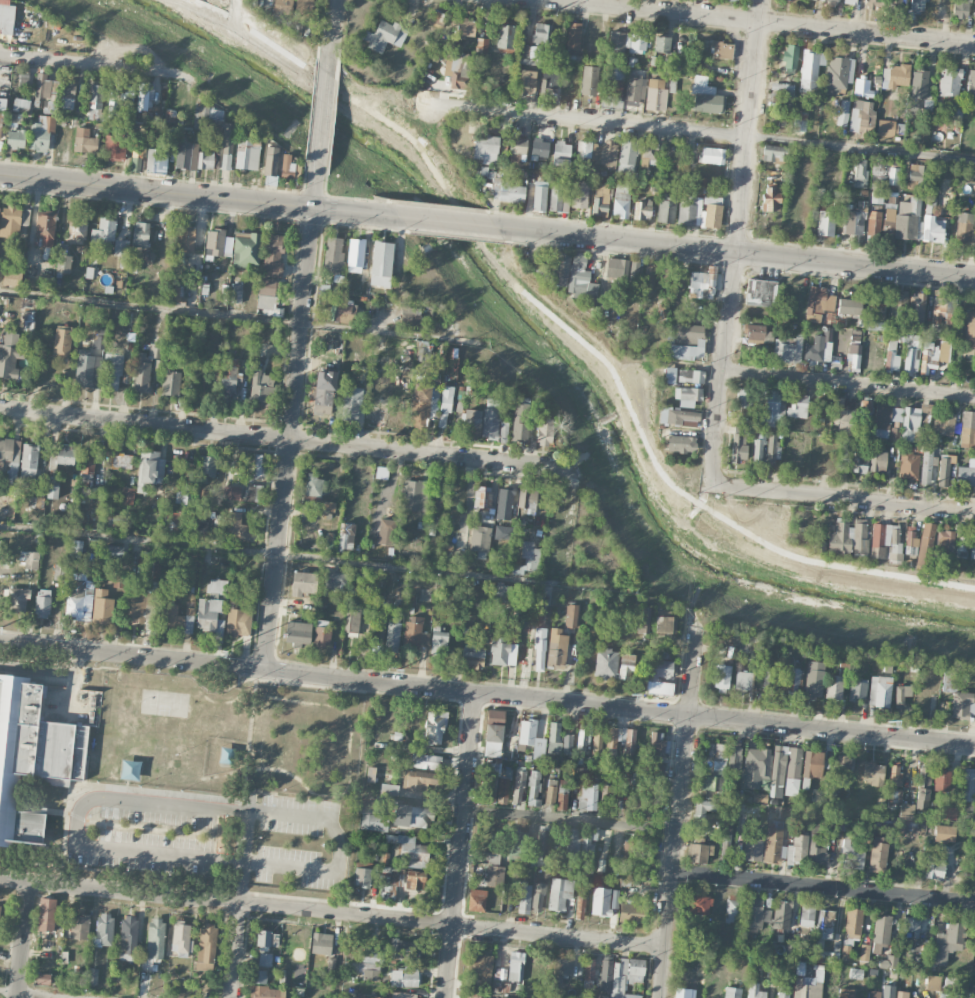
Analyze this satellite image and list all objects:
building: (732, 0)
building: (818, 0)
building: (851, 1)
building: (874, 3)
building: (895, 6)
building: (282, 7)
building: (917, 7)
building: (960, 8)
building: (303, 9)
building: (974, 10)
building: (6, 16)
building: (436, 18)
road: (763, 24)
building: (466, 27)
road: (332, 28)
building: (541, 33)
building: (385, 35)
building: (504, 36)
building: (573, 36)
building: (616, 42)
building: (637, 42)
building: (482, 45)
building: (661, 50)
building: (721, 50)
building: (436, 54)
building: (790, 58)
road: (79, 62)
building: (455, 69)
building: (810, 69)
building: (549, 72)
building: (837, 73)
building: (897, 75)
building: (23, 80)
building: (589, 80)
building: (614, 81)
building: (949, 81)
building: (526, 82)
building: (971, 83)
building: (919, 84)
building: (45, 86)
building: (861, 86)
building: (549, 87)
building: (634, 91)
building: (656, 94)
building: (68, 95)
building: (126, 96)
building: (142, 96)
building: (706, 97)
building: (787, 97)
building: (21, 103)
building: (924, 103)
building: (3, 104)
building: (100, 104)
building: (954, 110)
road: (323, 113)
building: (843, 113)
building: (170, 115)
building: (208, 118)
building: (862, 119)
building: (799, 121)
building: (0, 122)
building: (886, 128)
building: (41, 133)
road: (699, 133)
building: (15, 139)
building: (84, 141)
building: (227, 146)
building: (518, 146)
building: (540, 147)
building: (114, 149)
building: (485, 149)
building: (585, 149)
building: (247, 153)
building: (775, 153)
building: (606, 154)
building: (561, 155)
building: (648, 155)
building: (712, 155)
building: (137, 156)
building: (627, 156)
building: (193, 157)
building: (156, 160)
building: (271, 160)
building: (289, 168)
building: (860, 174)
building: (917, 174)
building: (893, 176)
building: (507, 191)
building: (579, 194)
road: (192, 195)
building: (540, 196)
building: (947, 196)
building: (558, 198)
building: (601, 199)
building: (621, 199)
building: (771, 199)
building: (666, 207)
building: (642, 210)
building: (699, 212)
building: (907, 219)
building: (11, 220)
road: (440, 221)
building: (853, 222)
building: (826, 223)
building: (874, 223)
building: (932, 223)
building: (888, 224)
building: (77, 226)
building: (964, 227)
building: (44, 230)
building: (140, 234)
building: (103, 235)
building: (185, 239)
building: (215, 242)
road: (736, 242)
building: (121, 246)
building: (246, 248)
road: (735, 254)
building: (273, 255)
building: (334, 255)
building: (355, 255)
building: (146, 256)
building: (124, 261)
building: (63, 263)
building: (381, 264)
building: (560, 269)
building: (620, 273)
building: (578, 274)
building: (666, 276)
building: (647, 281)
building: (702, 284)
building: (591, 288)
building: (324, 289)
building: (177, 292)
building: (337, 292)
building: (761, 292)
building: (236, 293)
building: (268, 297)
building: (899, 301)
building: (818, 303)
building: (848, 306)
building: (876, 306)
building: (344, 309)
building: (915, 309)
building: (661, 310)
building: (943, 310)
road: (240, 316)
building: (410, 316)
building: (28, 321)
building: (970, 329)
road: (568, 332)
building: (685, 332)
building: (757, 333)
building: (61, 341)
building: (820, 346)
building: (783, 349)
building: (686, 350)
building: (420, 354)
building: (853, 355)
building: (934, 355)
building: (10, 356)
building: (891, 356)
building: (911, 360)
building: (144, 366)
building: (87, 370)
building: (111, 371)
building: (683, 375)
building: (229, 376)
building: (170, 381)
road: (849, 384)
building: (261, 387)
building: (323, 391)
building: (688, 396)
building: (742, 397)
building: (424, 403)
building: (351, 404)
building: (445, 406)
building: (798, 406)
building: (821, 407)
building: (771, 408)
building: (678, 417)
building: (491, 418)
building: (885, 419)
road: (292, 420)
building: (914, 420)
building: (472, 423)
building: (520, 423)
building: (943, 424)
building: (967, 429)
building: (503, 431)
building: (544, 431)
building: (894, 431)
road: (287, 435)
building: (680, 443)
building: (849, 444)
building: (739, 446)
building: (771, 447)
building: (757, 451)
building: (62, 454)
building: (878, 459)
building: (120, 460)
building: (29, 461)
building: (857, 462)
building: (927, 465)
building: (207, 466)
building: (259, 466)
building: (909, 466)
building: (87, 468)
building: (944, 469)
building: (150, 470)
building: (966, 474)
building: (313, 485)
building: (438, 489)
building: (52, 491)
building: (230, 492)
building: (253, 492)
building: (414, 495)
building: (127, 496)
building: (183, 497)
building: (483, 497)
building: (526, 497)
road: (843, 498)
building: (434, 501)
building: (504, 504)
building: (112, 520)
building: (177, 524)
building: (239, 526)
building: (199, 530)
building: (386, 531)
building: (502, 532)
building: (346, 537)
building: (847, 538)
building: (879, 539)
building: (329, 541)
building: (480, 541)
building: (910, 541)
building: (944, 541)
building: (925, 543)
building: (894, 545)
building: (820, 546)
building: (962, 546)
building: (972, 546)
building: (111, 550)
building: (530, 555)
road: (323, 558)
building: (29, 559)
building: (59, 571)
building: (151, 576)
building: (333, 580)
building: (118, 583)
building: (303, 583)
building: (216, 587)
building: (502, 593)
building: (402, 597)
building: (75, 598)
building: (16, 600)
building: (43, 603)
building: (135, 606)
building: (102, 607)
building: (515, 610)
building: (571, 615)
building: (210, 616)
building: (177, 617)
building: (352, 620)
building: (644, 621)
building: (239, 622)
building: (663, 623)
building: (415, 632)
building: (539, 632)
building: (297, 633)
building: (379, 633)
building: (321, 636)
building: (392, 636)
building: (439, 642)
building: (556, 648)
building: (502, 652)
power tower: (223, 653)
building: (472, 659)
building: (606, 663)
building: (626, 666)
power tower: (397, 671)
building: (722, 676)
building: (768, 676)
building: (659, 677)
building: (790, 678)
building: (814, 678)
building: (743, 680)
building: (834, 687)
building: (857, 690)
building: (880, 691)
road: (487, 692)
building: (903, 695)
power tower: (647, 697)
building: (958, 697)
building: (495, 715)
power tower: (888, 723)
building: (435, 727)
building: (554, 737)
building: (531, 738)
building: (493, 740)
building: (581, 740)
building: (613, 740)
building: (597, 741)
building: (656, 742)
building: (567, 744)
building: (628, 748)
building: (31, 754)
building: (734, 756)
building: (720, 757)
building: (425, 761)
building: (812, 764)
building: (778, 765)
building: (841, 765)
building: (755, 767)
building: (793, 767)
building: (655, 768)
building: (873, 773)
building: (895, 774)
building: (420, 780)
building: (942, 780)
building: (490, 781)
building: (710, 783)
building: (519, 784)
building: (638, 784)
building: (968, 785)
building: (503, 786)
building: (922, 787)
building: (389, 788)
building: (534, 788)
building: (550, 791)
building: (562, 794)
building: (710, 795)
building: (588, 796)
building: (607, 798)
building: (644, 806)
building: (704, 807)
building: (907, 810)
road: (677, 812)
building: (945, 812)
building: (412, 816)
road: (570, 820)
building: (374, 822)
building: (892, 827)
building: (945, 833)
parking lot: (212, 836)
building: (541, 842)
building: (517, 843)
building: (572, 843)
road: (461, 844)
building: (588, 844)
building: (648, 845)
road: (247, 846)
building: (783, 846)
building: (725, 848)
building: (752, 849)
building: (817, 850)
building: (413, 851)
building: (629, 852)
building: (699, 852)
building: (853, 854)
building: (877, 854)
road: (175, 856)
building: (934, 867)
building: (494, 870)
road: (15, 877)
building: (362, 877)
building: (414, 879)
building: (387, 883)
road: (823, 886)
road: (136, 890)
building: (559, 893)
building: (524, 898)
building: (537, 898)
building: (476, 900)
building: (580, 900)
building: (600, 901)
building: (698, 904)
road: (295, 906)
building: (1, 909)
building: (732, 909)
building: (46, 914)
building: (630, 914)
building: (755, 914)
building: (782, 914)
road: (400, 917)
building: (808, 917)
building: (854, 922)
building: (825, 924)
building: (79, 926)
building: (911, 927)
building: (102, 929)
building: (880, 933)
building: (128, 934)
road: (558, 934)
road: (24, 938)
building: (182, 938)
building: (263, 938)
building: (153, 941)
building: (947, 942)
building: (45, 943)
building: (321, 943)
building: (206, 945)
building: (404, 947)
road: (237, 949)
building: (789, 951)
building: (846, 952)
building: (864, 954)
building: (265, 959)
building: (891, 961)
building: (368, 963)
building: (534, 963)
building: (482, 966)
building: (516, 966)
building: (562, 969)
building: (588, 969)
building: (856, 973)
building: (92, 976)
building: (259, 976)
building: (625, 976)
building: (604, 977)
building: (43, 978)
building: (408, 978)
building: (933, 982)
building: (808, 986)
building: (501, 987)
building: (972, 989)
building: (754, 991)
building: (887, 991)
building: (682, 992)
building: (731, 992)
road: (43, 993)
building: (266, 993)
building: (846, 993)
building: (782, 994)
building: (872, 994)
building: (900, 994)
building: (403, 995)
building: (949, 995)
building: (366, 996)

